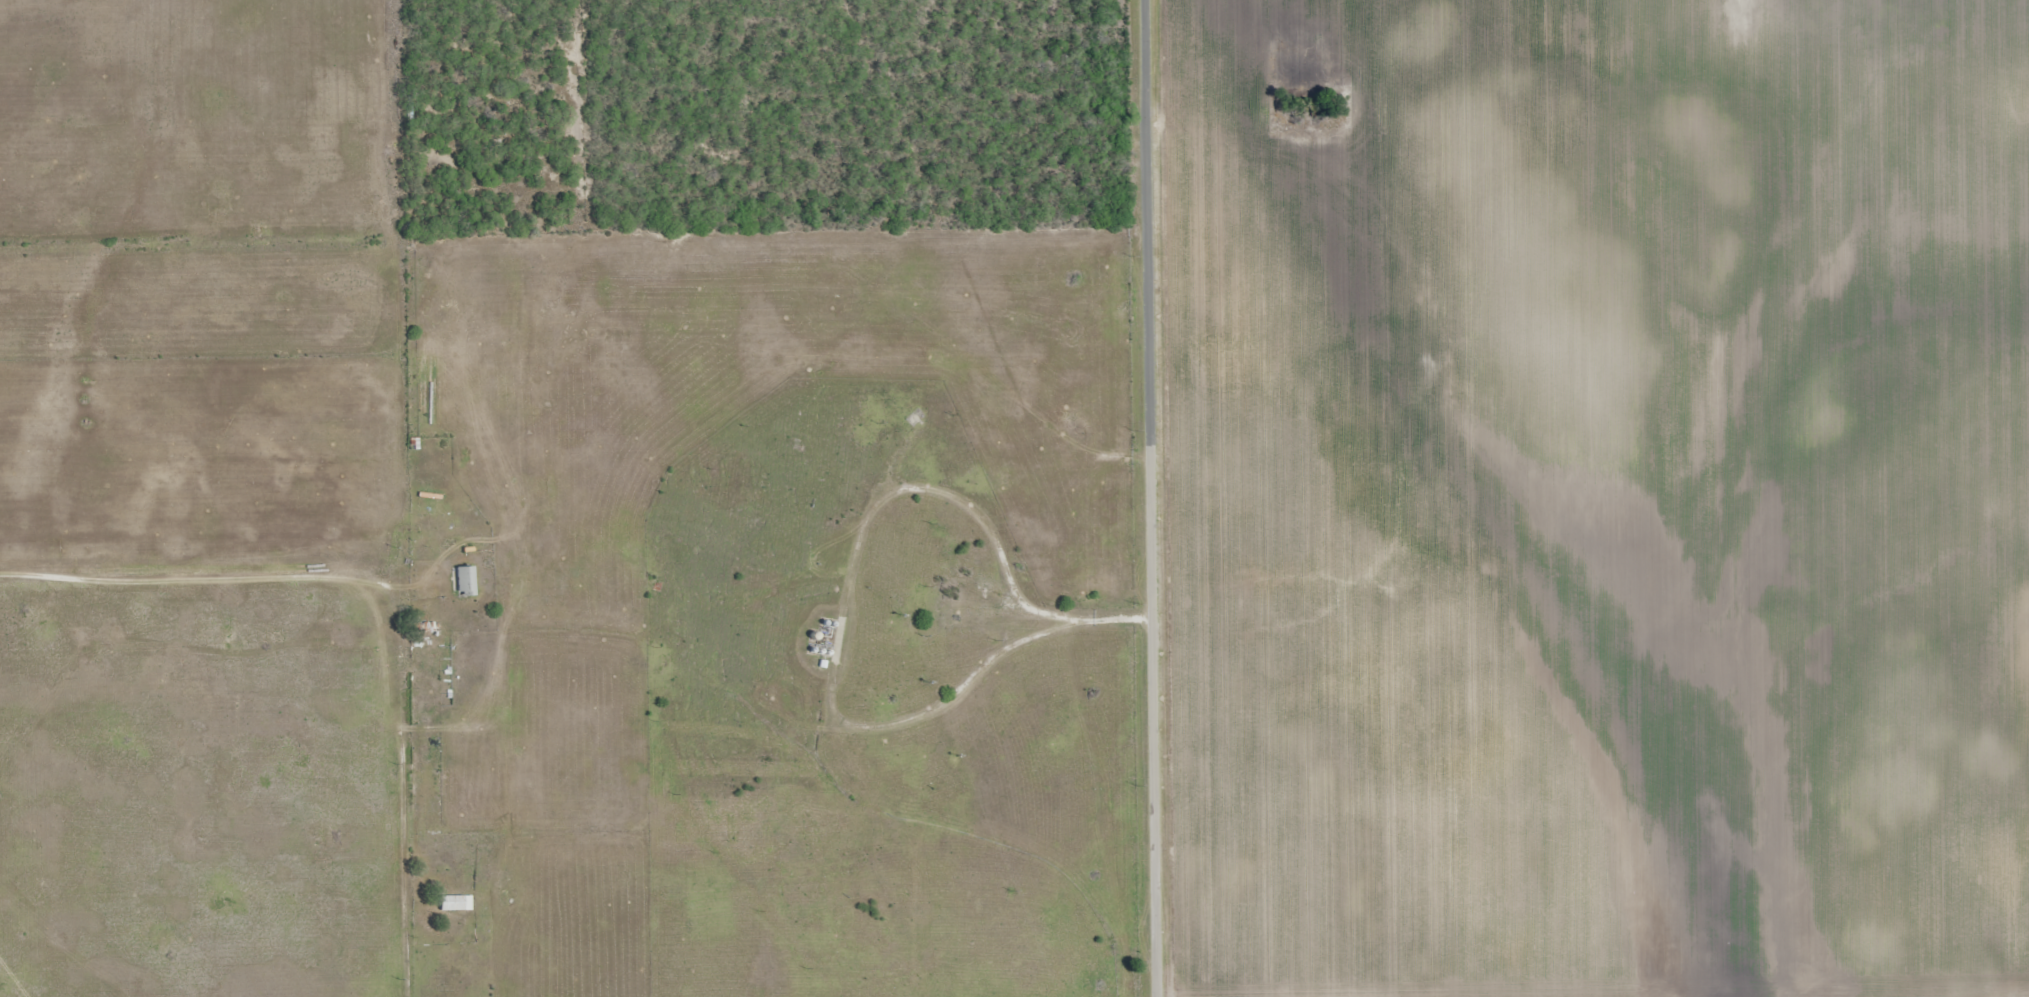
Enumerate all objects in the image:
road: (1149, 498)
road: (381, 606)
road: (524, 702)

